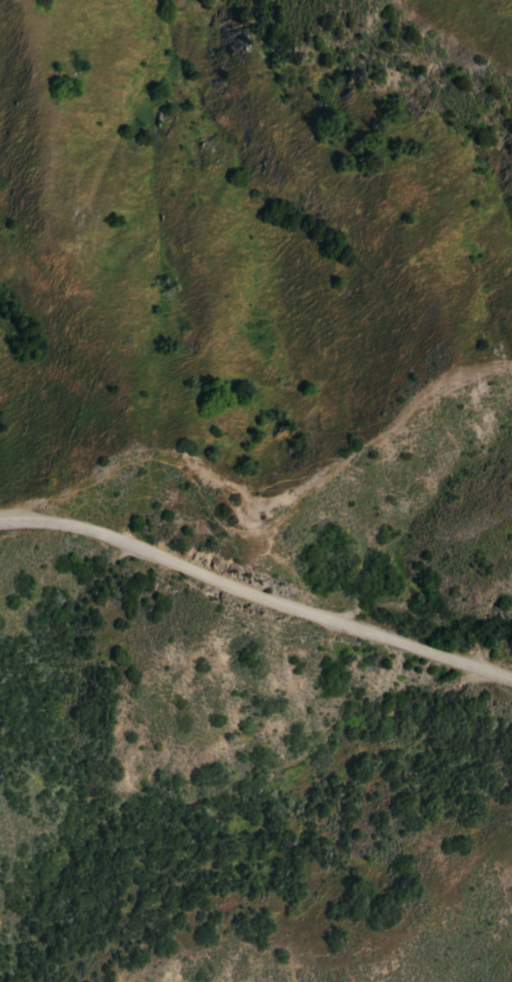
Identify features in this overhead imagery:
road: (257, 591)

